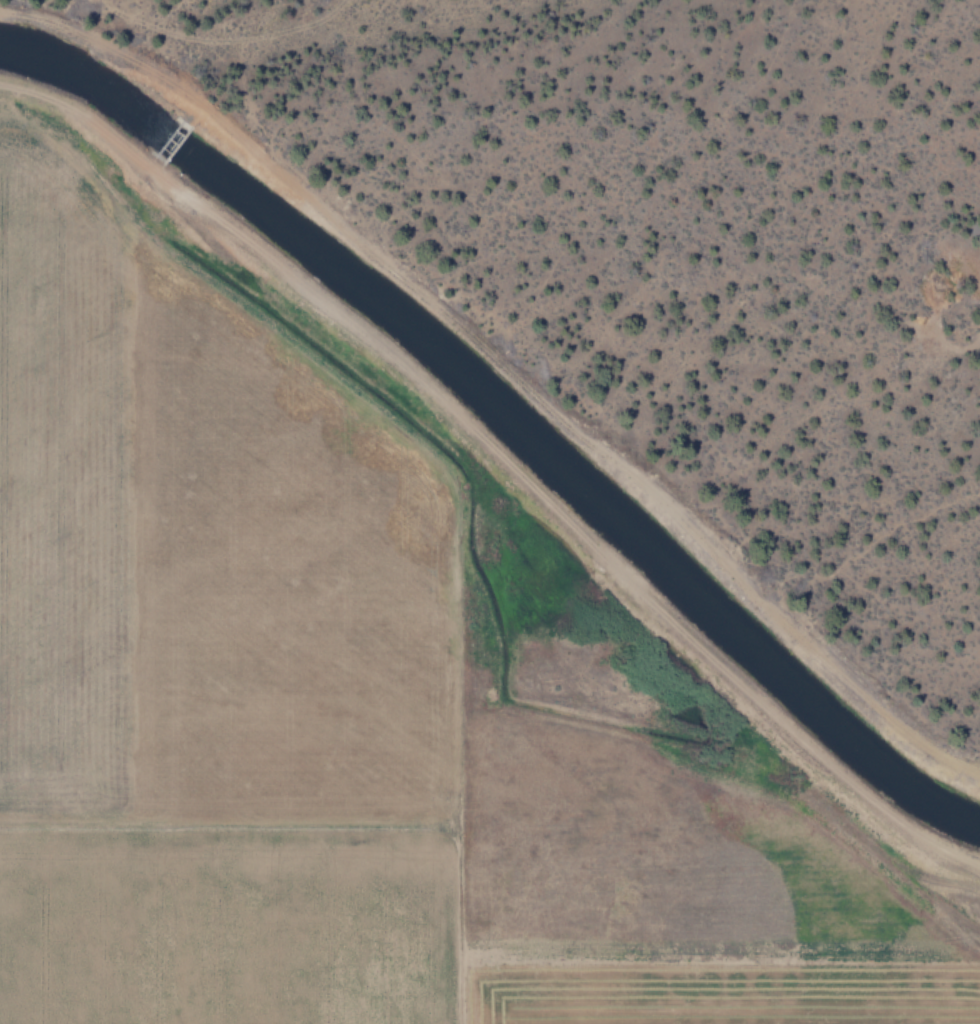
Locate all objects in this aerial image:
road: (507, 453)
crop: (391, 652)

